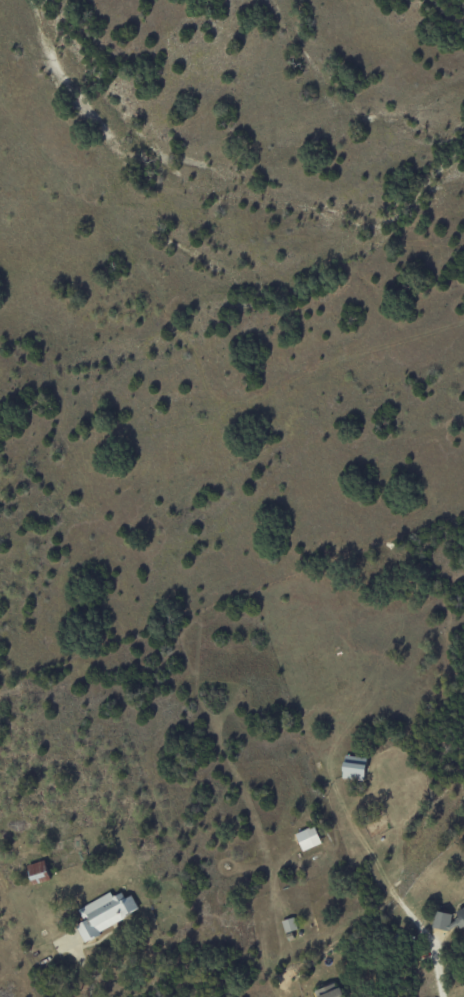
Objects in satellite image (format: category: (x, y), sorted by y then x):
building: (353, 768)
building: (308, 838)
building: (38, 872)
road: (391, 891)
building: (105, 913)
building: (448, 920)
building: (289, 925)
road: (88, 978)
building: (330, 991)

